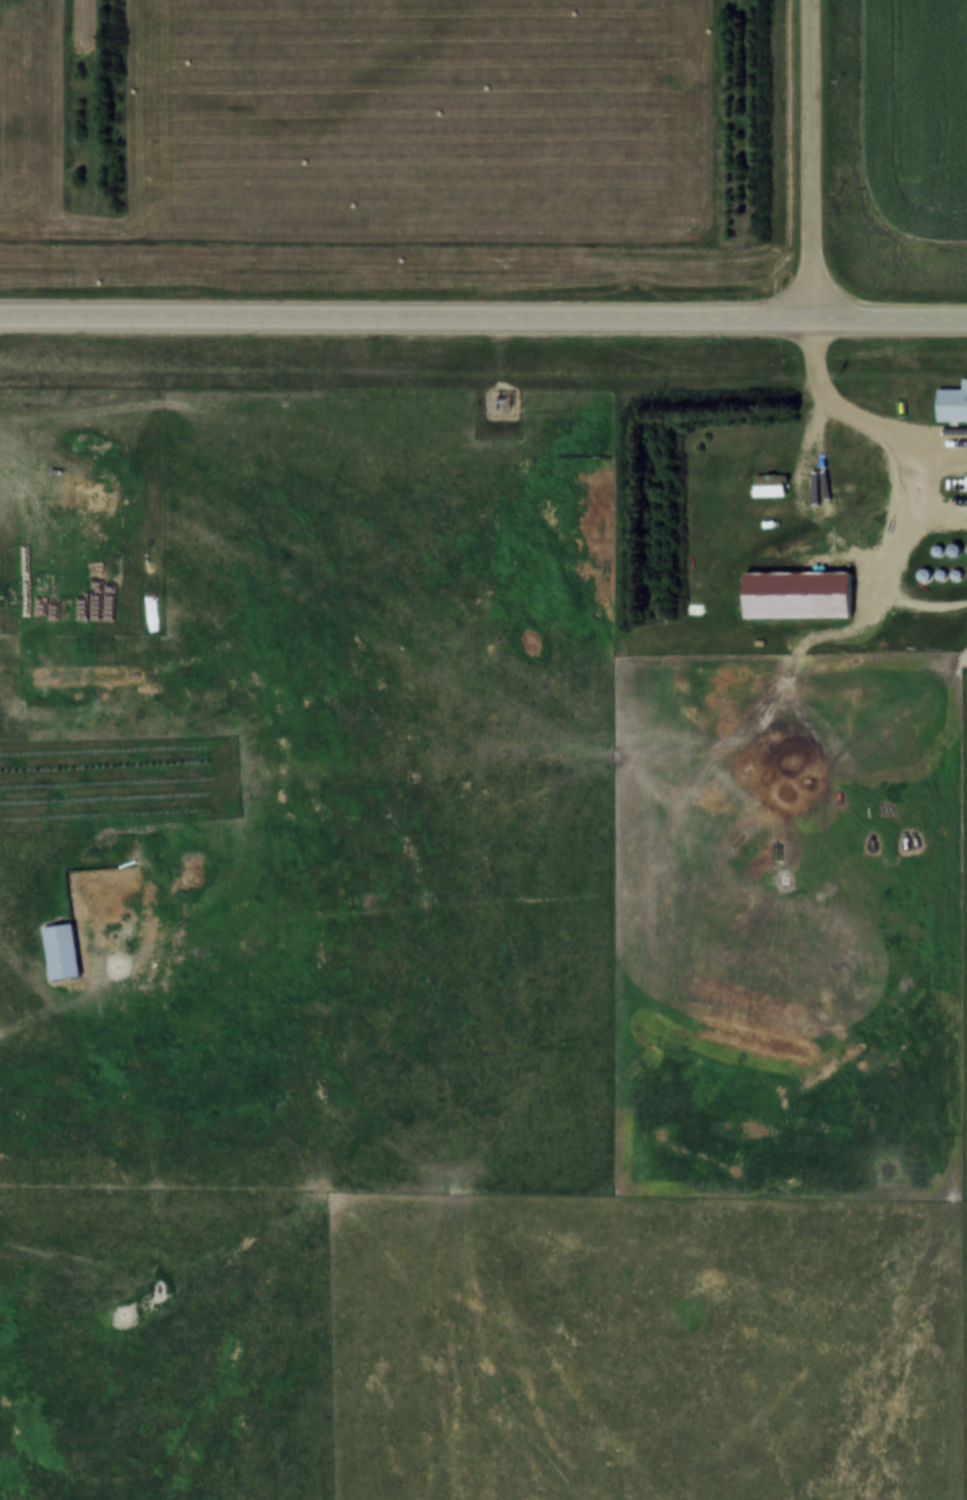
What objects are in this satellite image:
road: (820, 166)
road: (483, 331)
building: (952, 400)
building: (966, 476)
silo: (966, 476)
building: (766, 482)
building: (966, 546)
silo: (966, 546)
building: (935, 547)
silo: (935, 547)
building: (951, 547)
silo: (951, 547)
building: (966, 571)
silo: (966, 571)
building: (922, 572)
silo: (922, 572)
building: (938, 572)
silo: (938, 572)
building: (953, 572)
silo: (953, 572)
building: (795, 591)
building: (59, 947)

